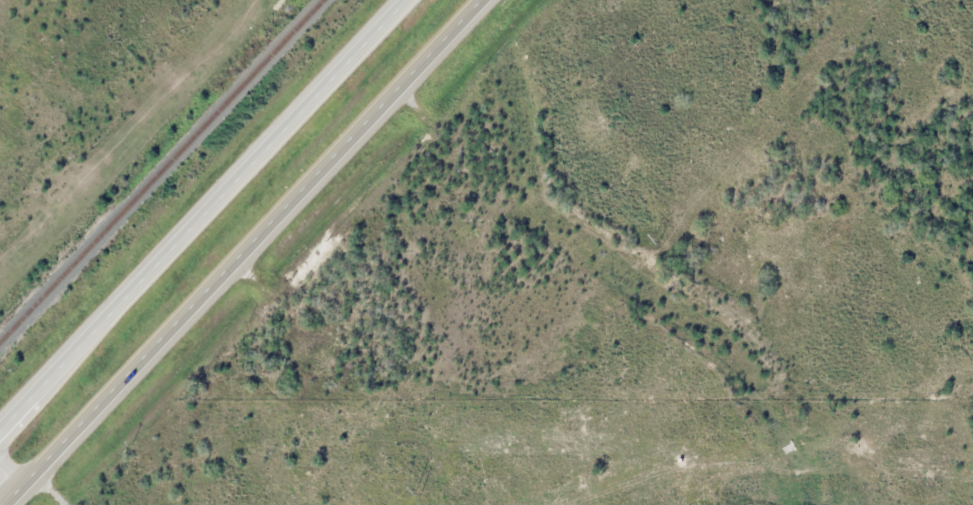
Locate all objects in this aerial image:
railway: (160, 170)
road: (205, 215)
power tower: (659, 239)
road: (243, 252)
road: (9, 482)
power tower: (419, 492)

